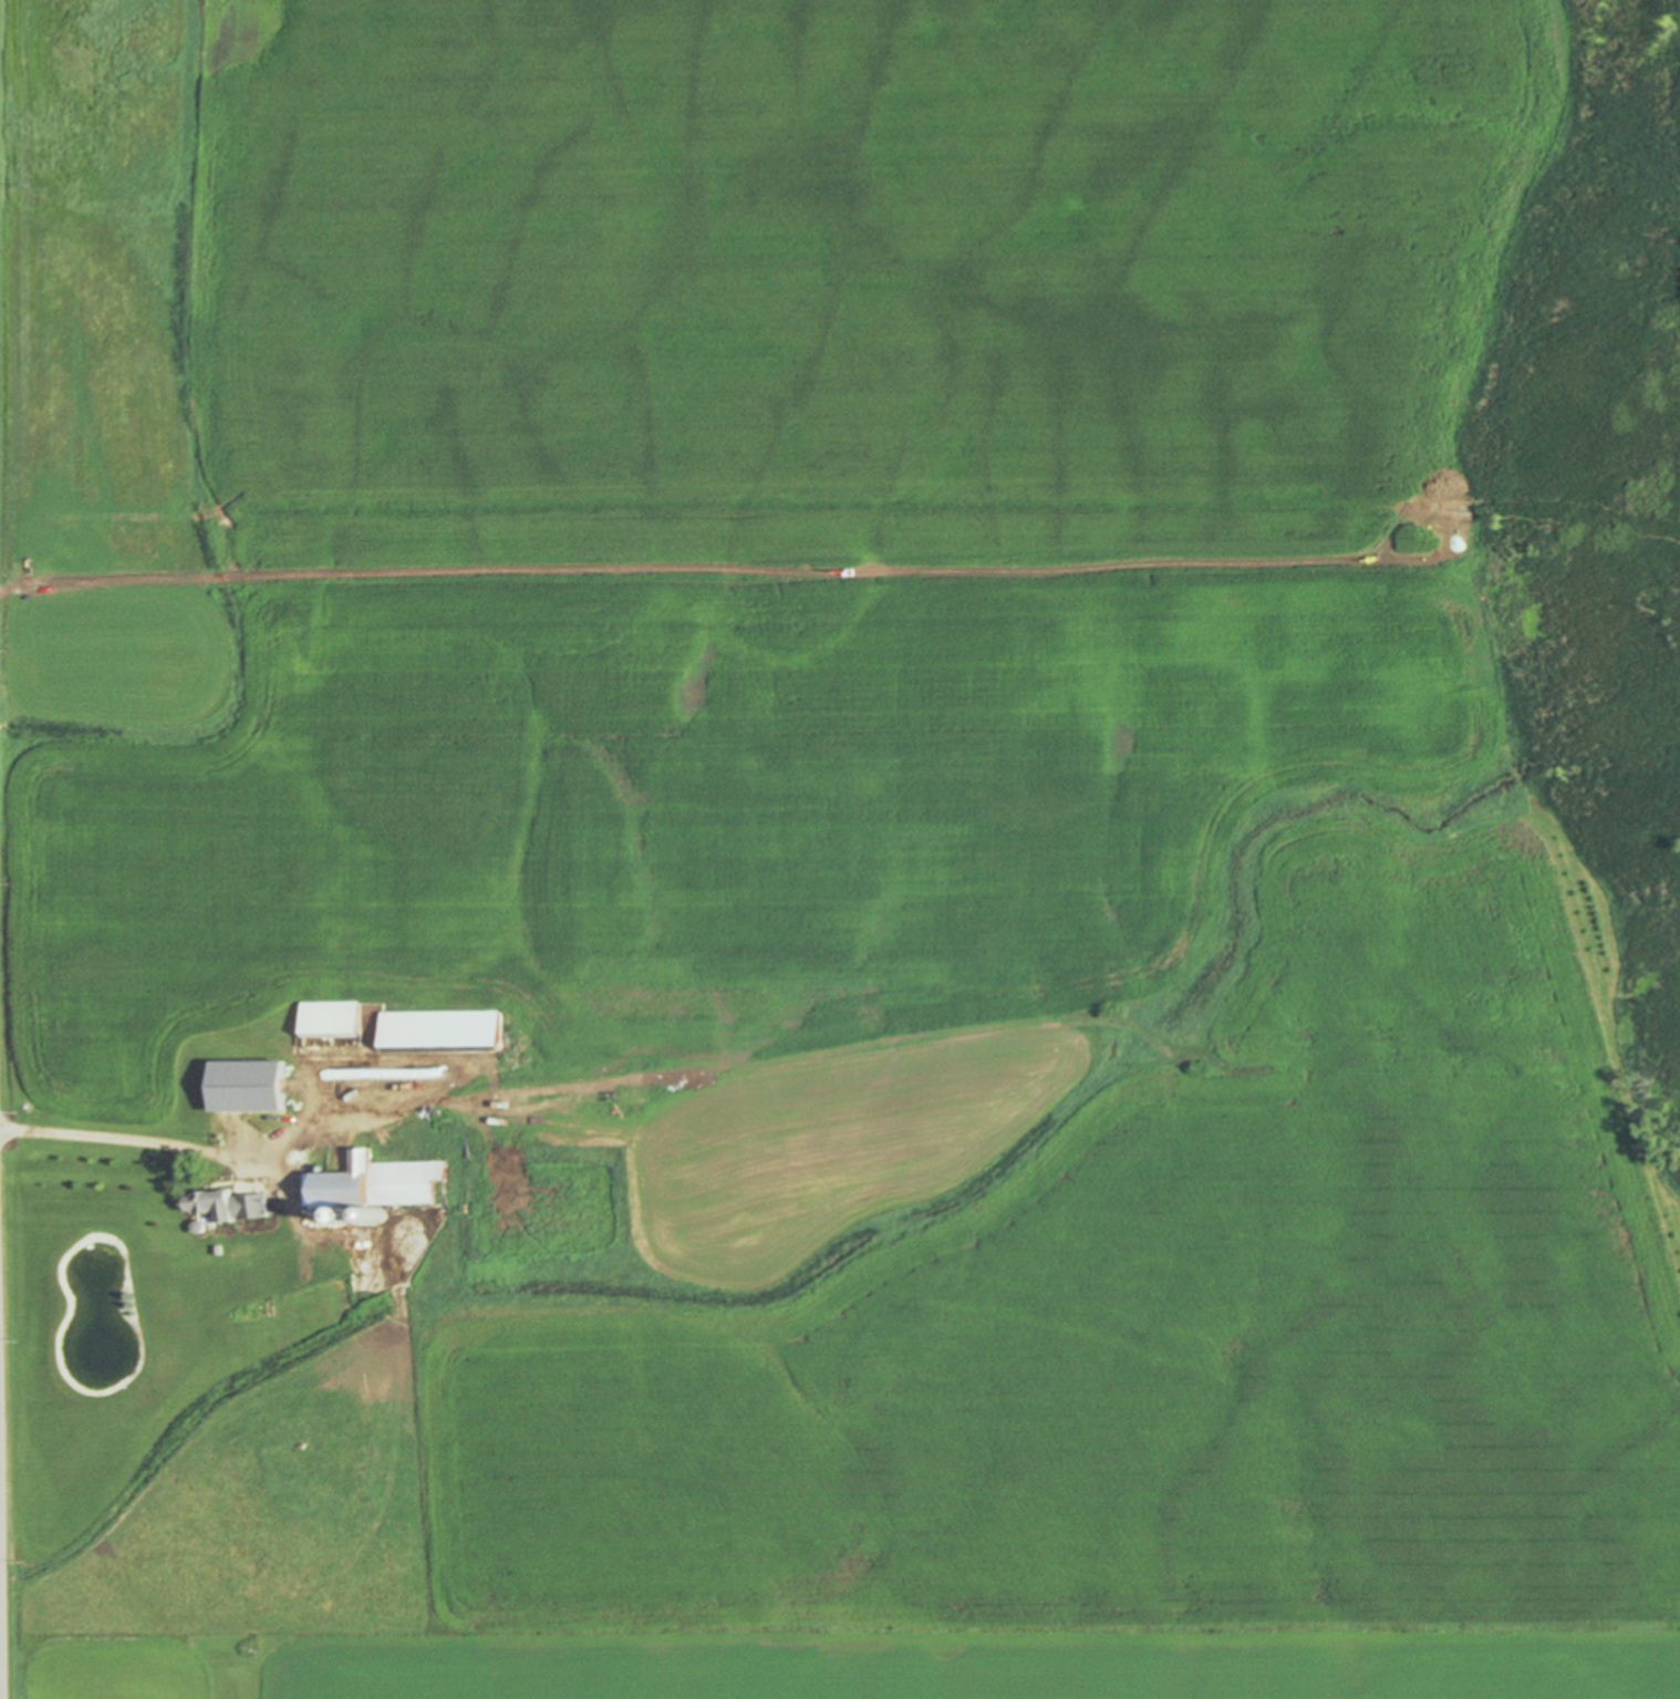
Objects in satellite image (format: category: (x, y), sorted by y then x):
building: (334, 1018)
building: (372, 1069)
building: (252, 1085)
road: (184, 1146)
building: (378, 1185)
building: (232, 1204)
building: (201, 1226)
building: (219, 1250)

